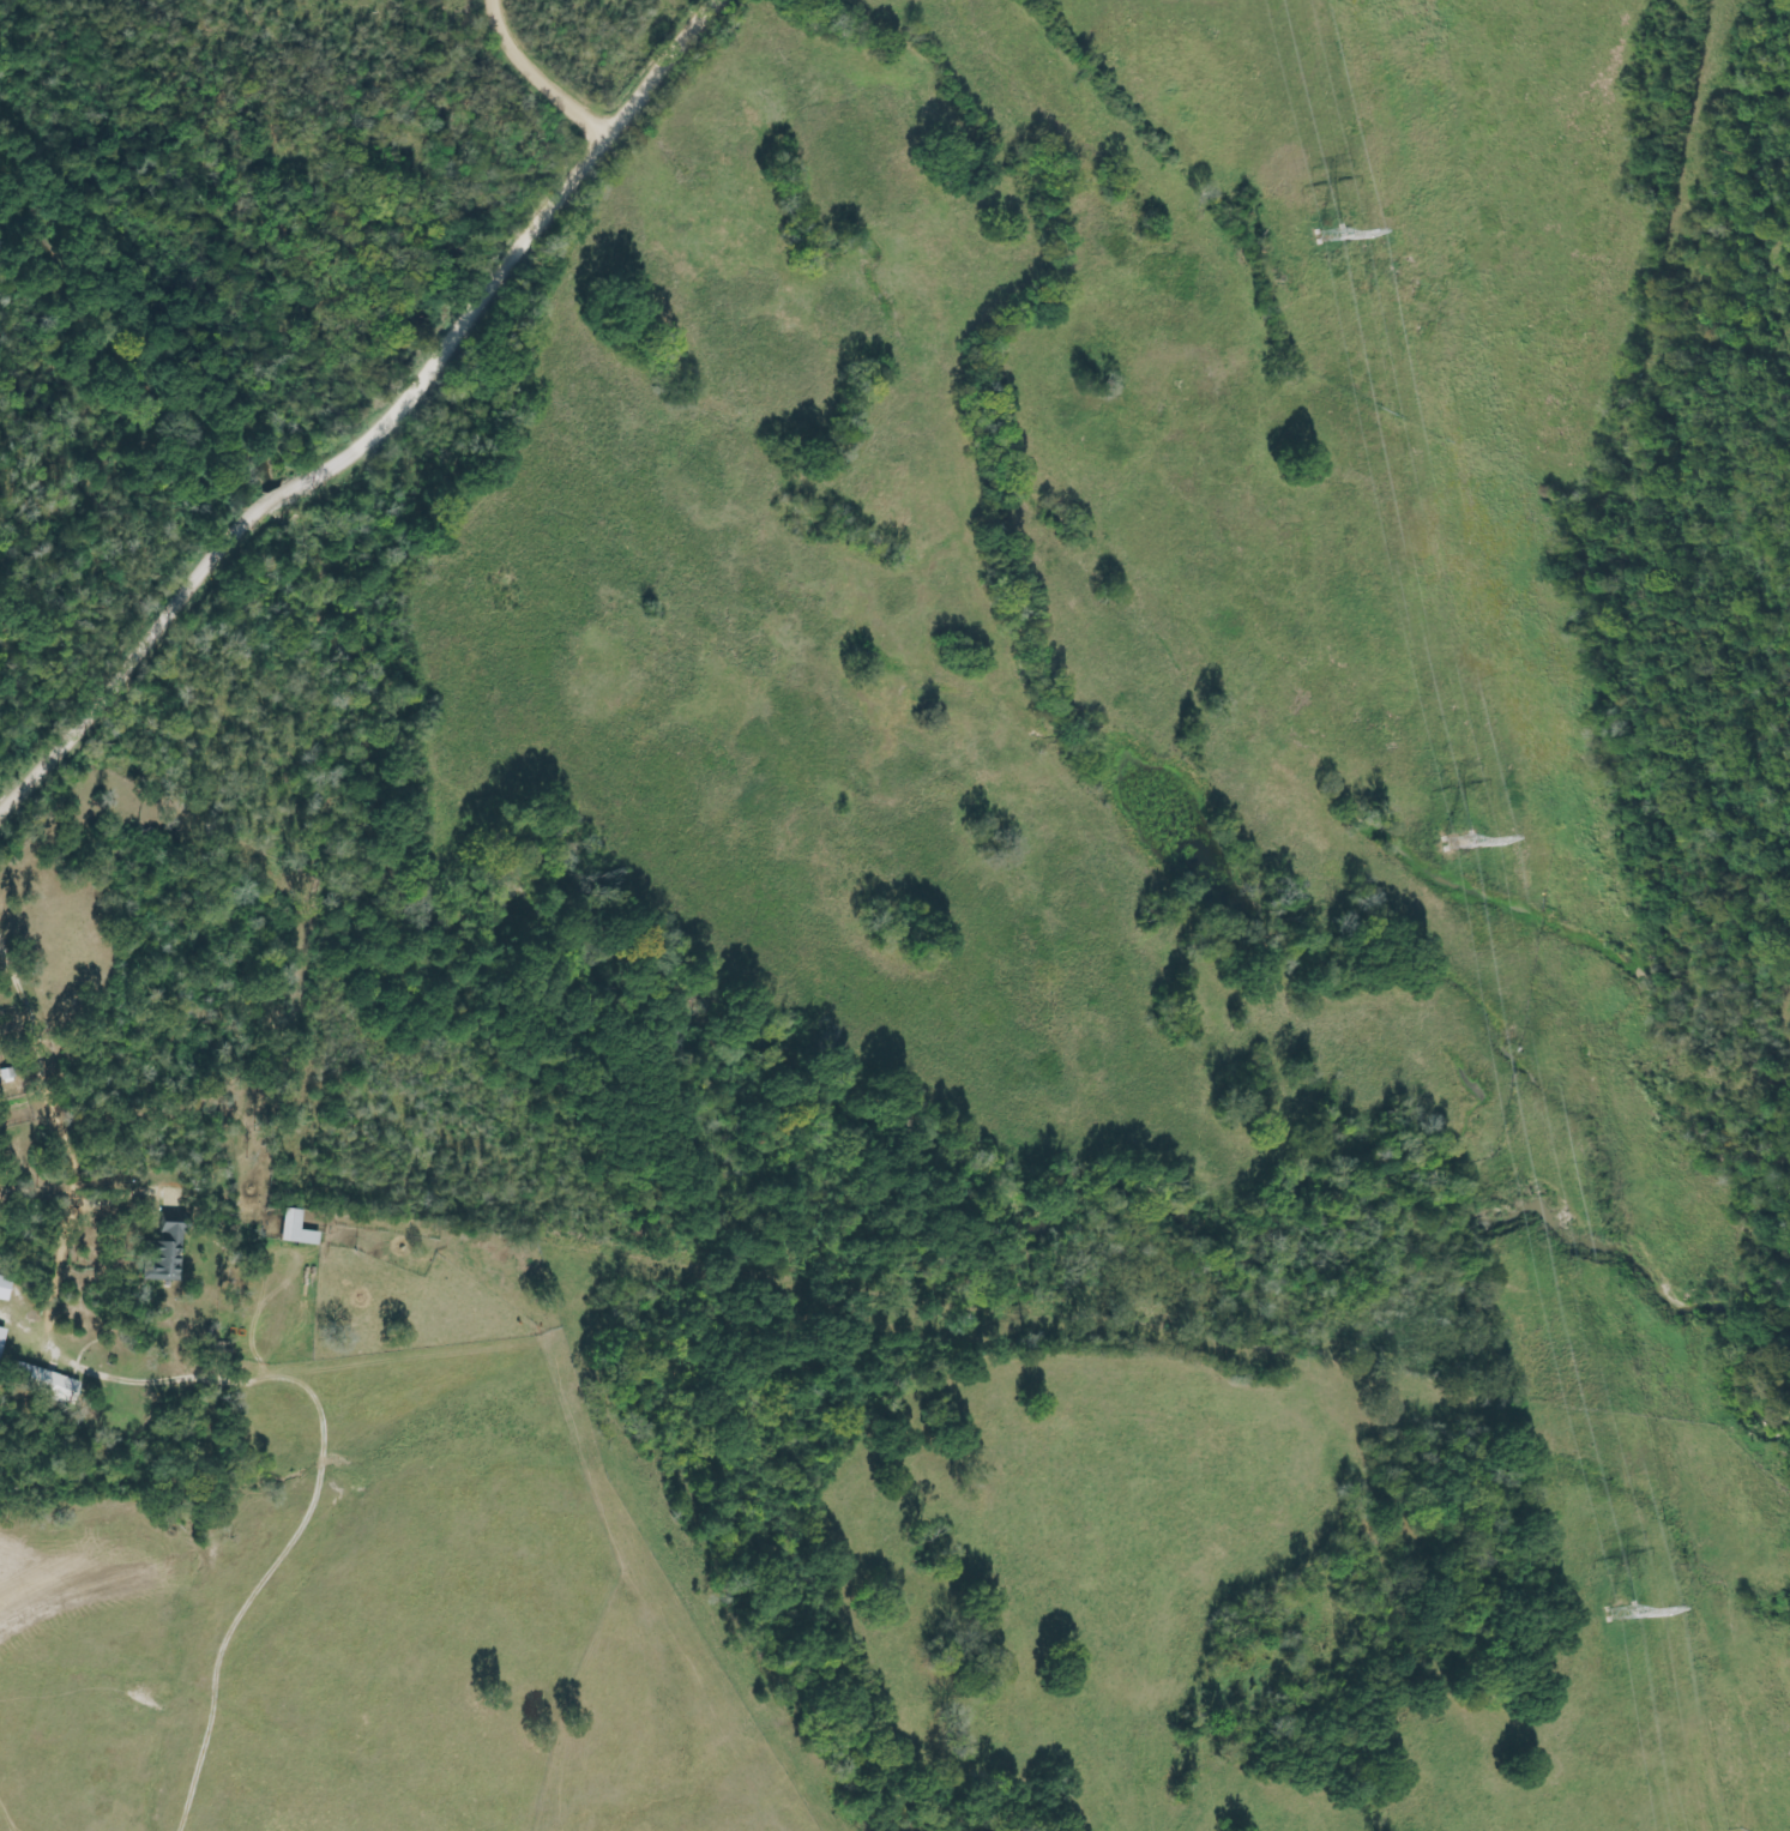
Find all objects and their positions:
road: (543, 79)
power tower: (1326, 235)
road: (381, 432)
power tower: (1454, 839)
railway: (1620, 848)
building: (296, 1229)
building: (165, 1254)
building: (5, 1287)
building: (1, 1336)
building: (46, 1383)
power tower: (1617, 1610)

